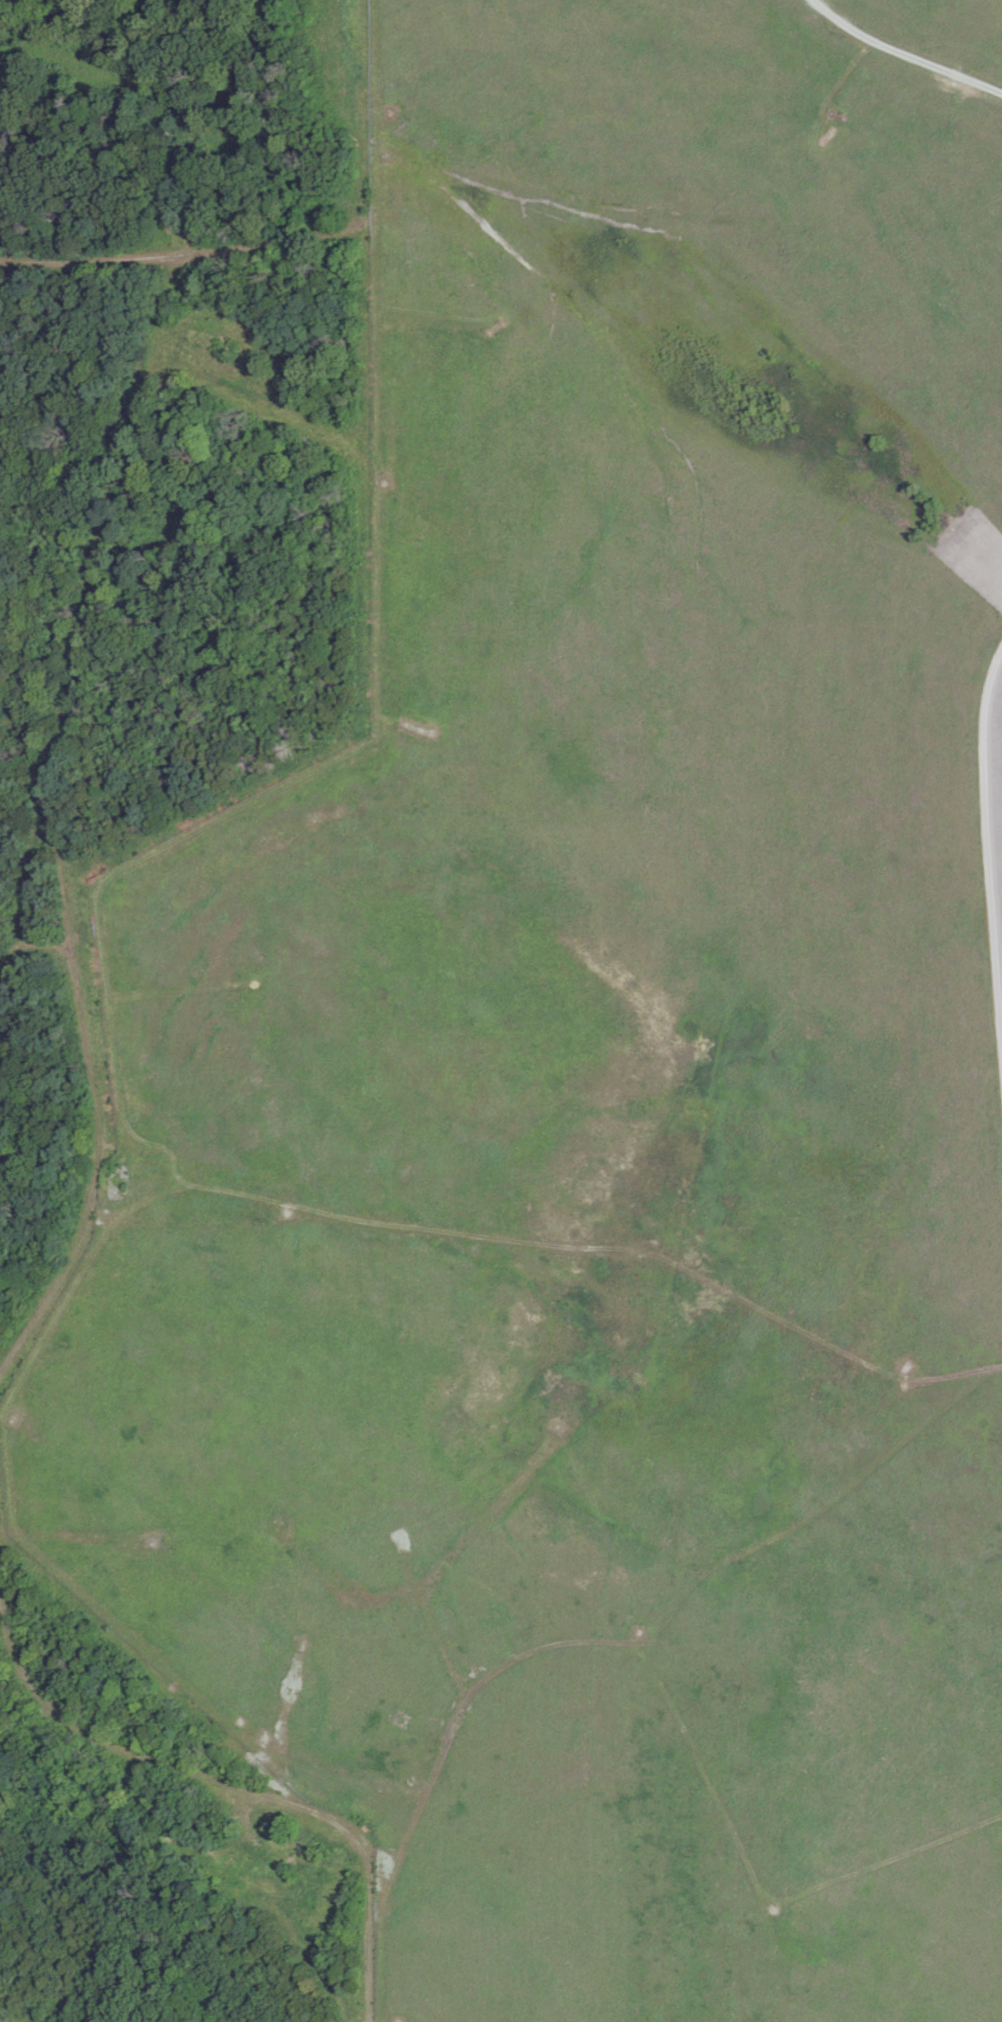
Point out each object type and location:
road: (903, 53)
road: (175, 120)
road: (177, 256)
road: (257, 393)
road: (361, 522)
road: (52, 760)
landfill: (998, 773)
road: (988, 838)
road: (35, 946)
park: (604, 1059)
road: (231, 1785)

